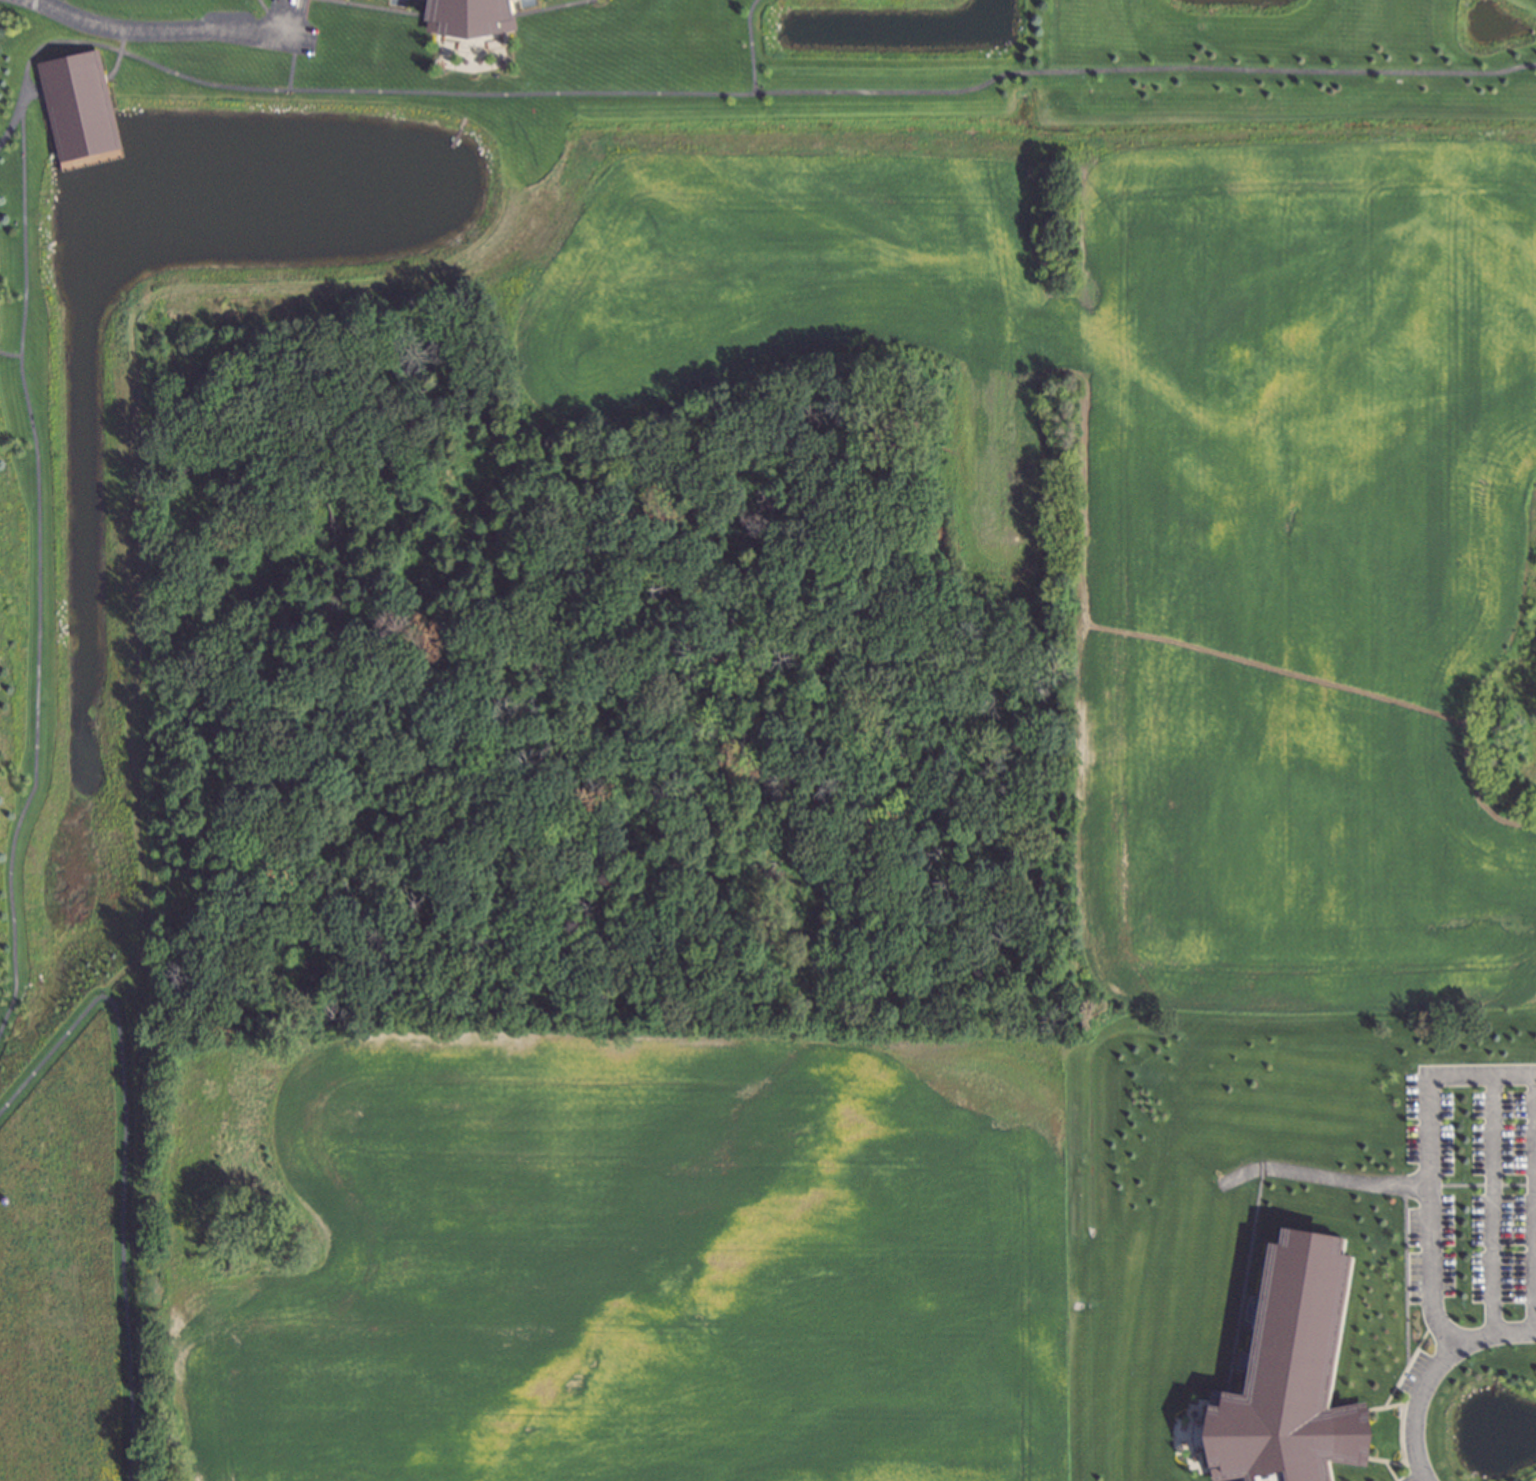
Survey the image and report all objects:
building: (469, 19)
road: (153, 28)
road: (15, 125)
road: (1430, 1160)
road: (116, 1163)
road: (1495, 1201)
road: (1534, 1201)
crop: (618, 1248)
road: (1429, 1369)
building: (1281, 1372)

